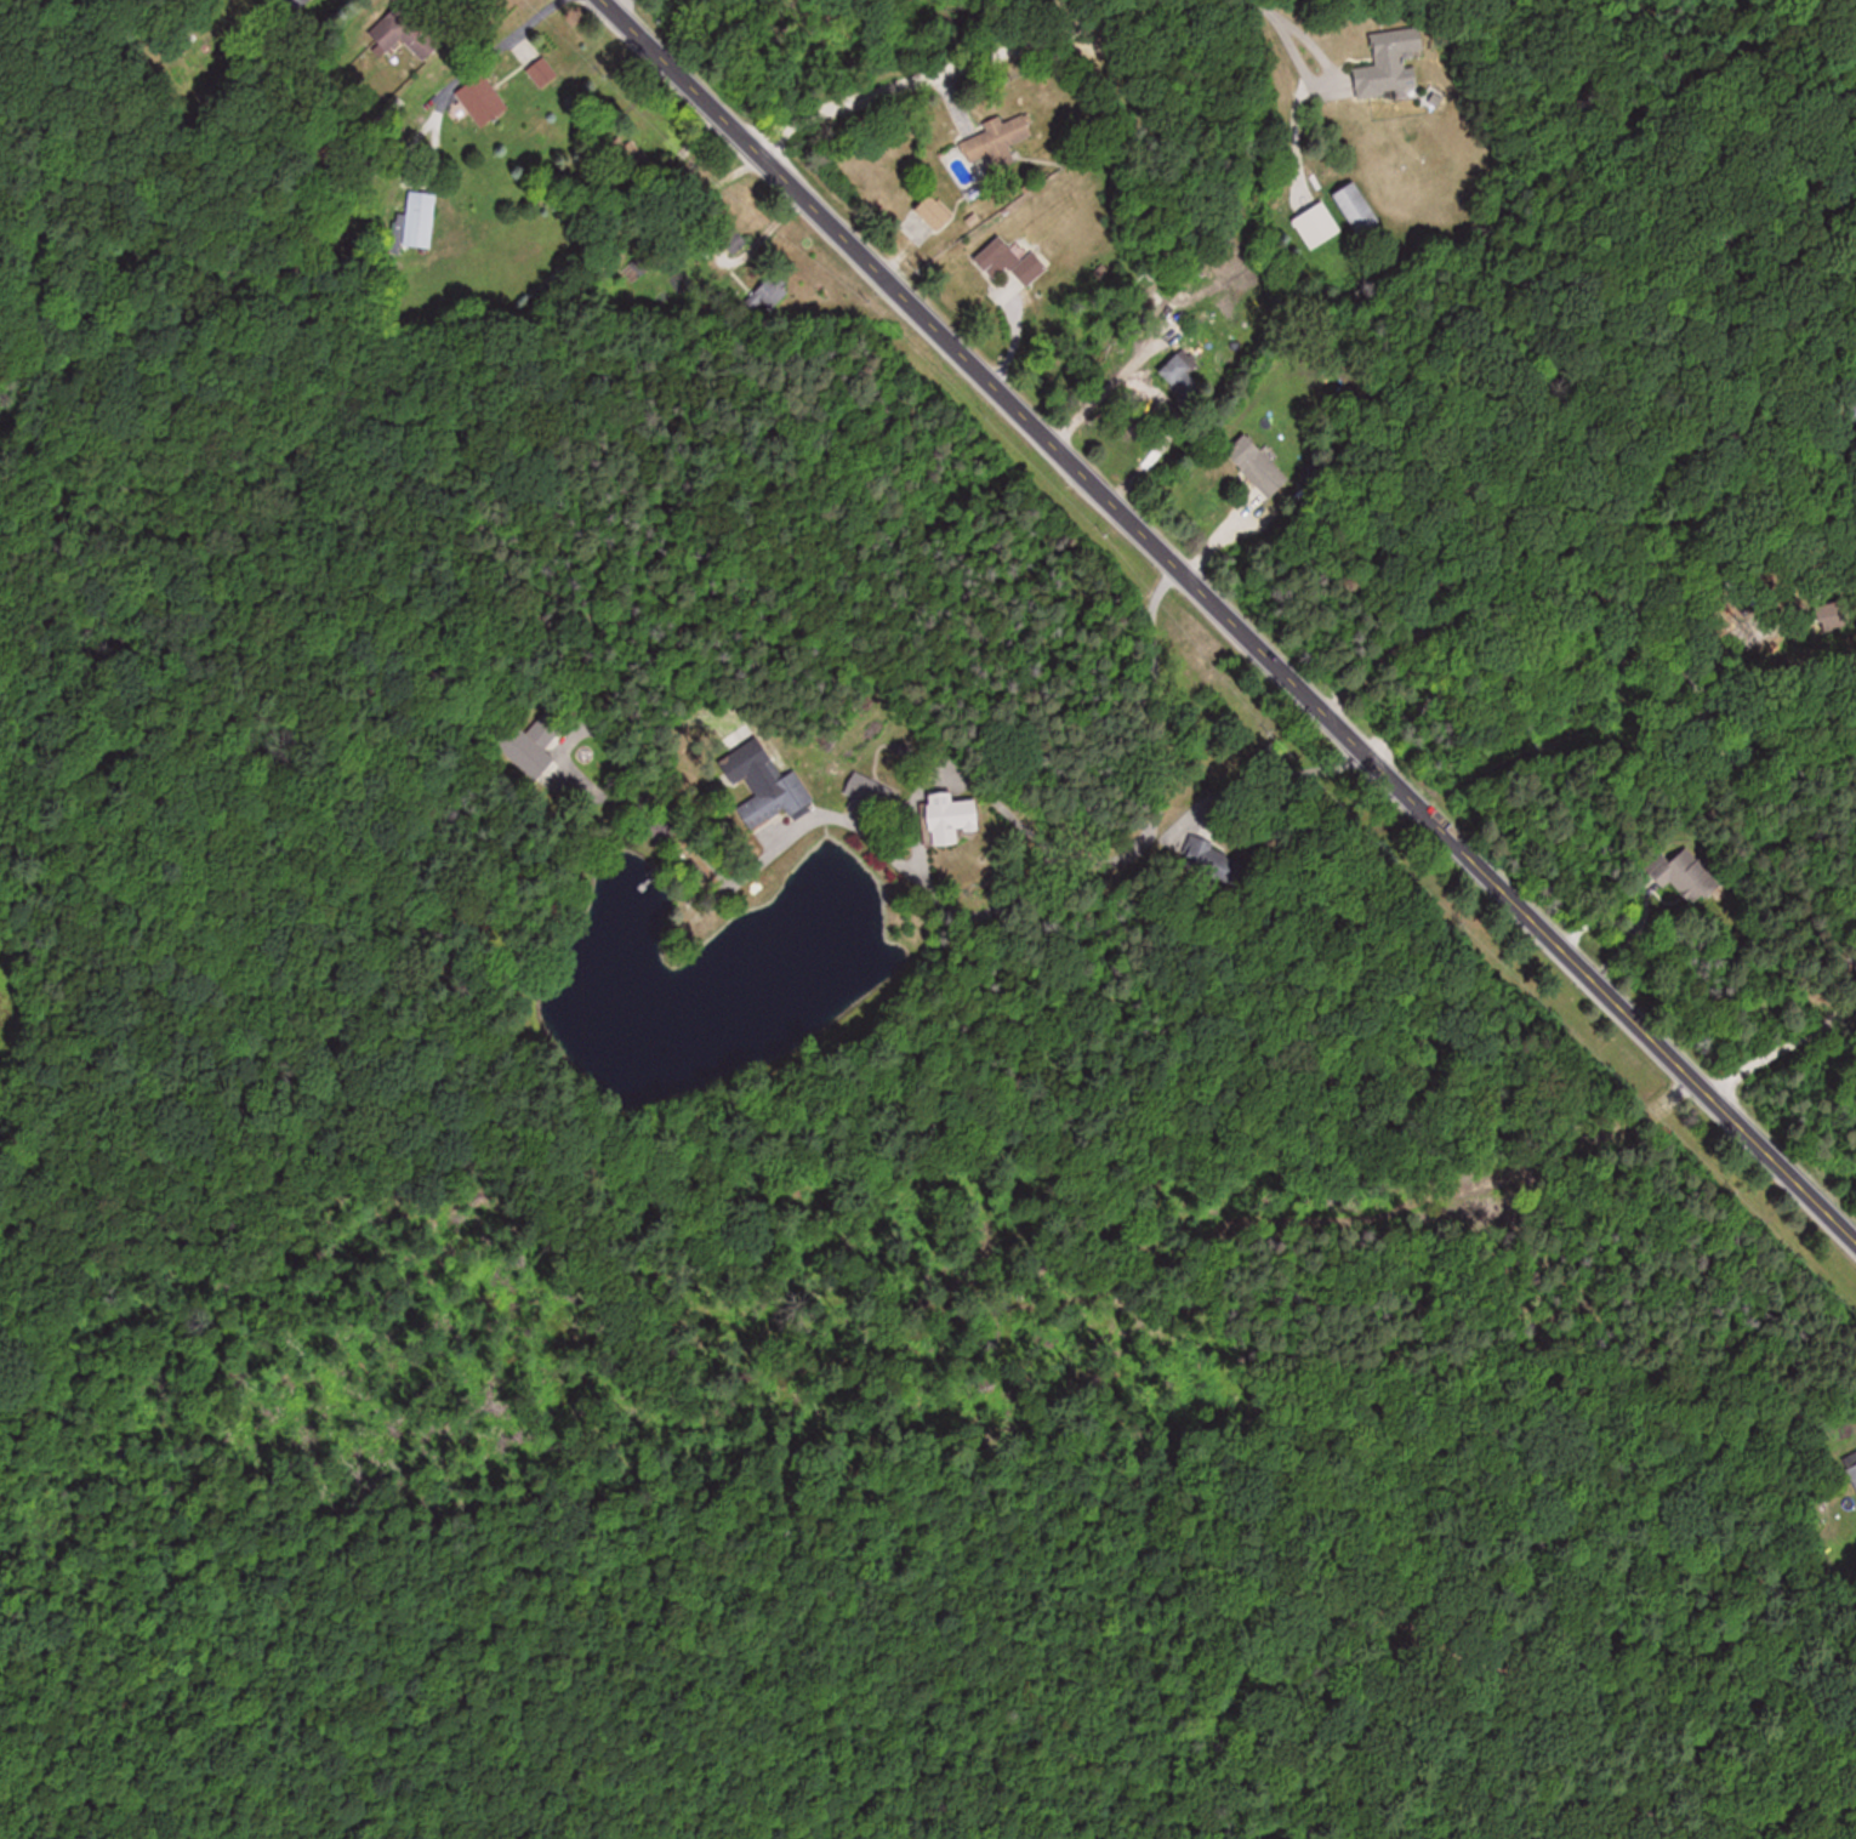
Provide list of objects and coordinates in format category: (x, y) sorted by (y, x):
building: (303, 4)
building: (406, 33)
road: (1292, 40)
road: (489, 44)
building: (1393, 62)
road: (950, 69)
building: (542, 72)
building: (483, 99)
building: (998, 140)
building: (637, 163)
road: (415, 171)
building: (1361, 210)
building: (938, 212)
building: (421, 218)
building: (1013, 262)
building: (1183, 376)
building: (1259, 466)
road: (1226, 621)
road: (1623, 651)
road: (1157, 707)
building: (536, 744)
building: (768, 785)
building: (955, 816)
building: (1215, 861)
road: (1040, 864)
building: (1691, 877)
park: (49, 961)
road: (1782, 1049)
building: (1854, 1467)

